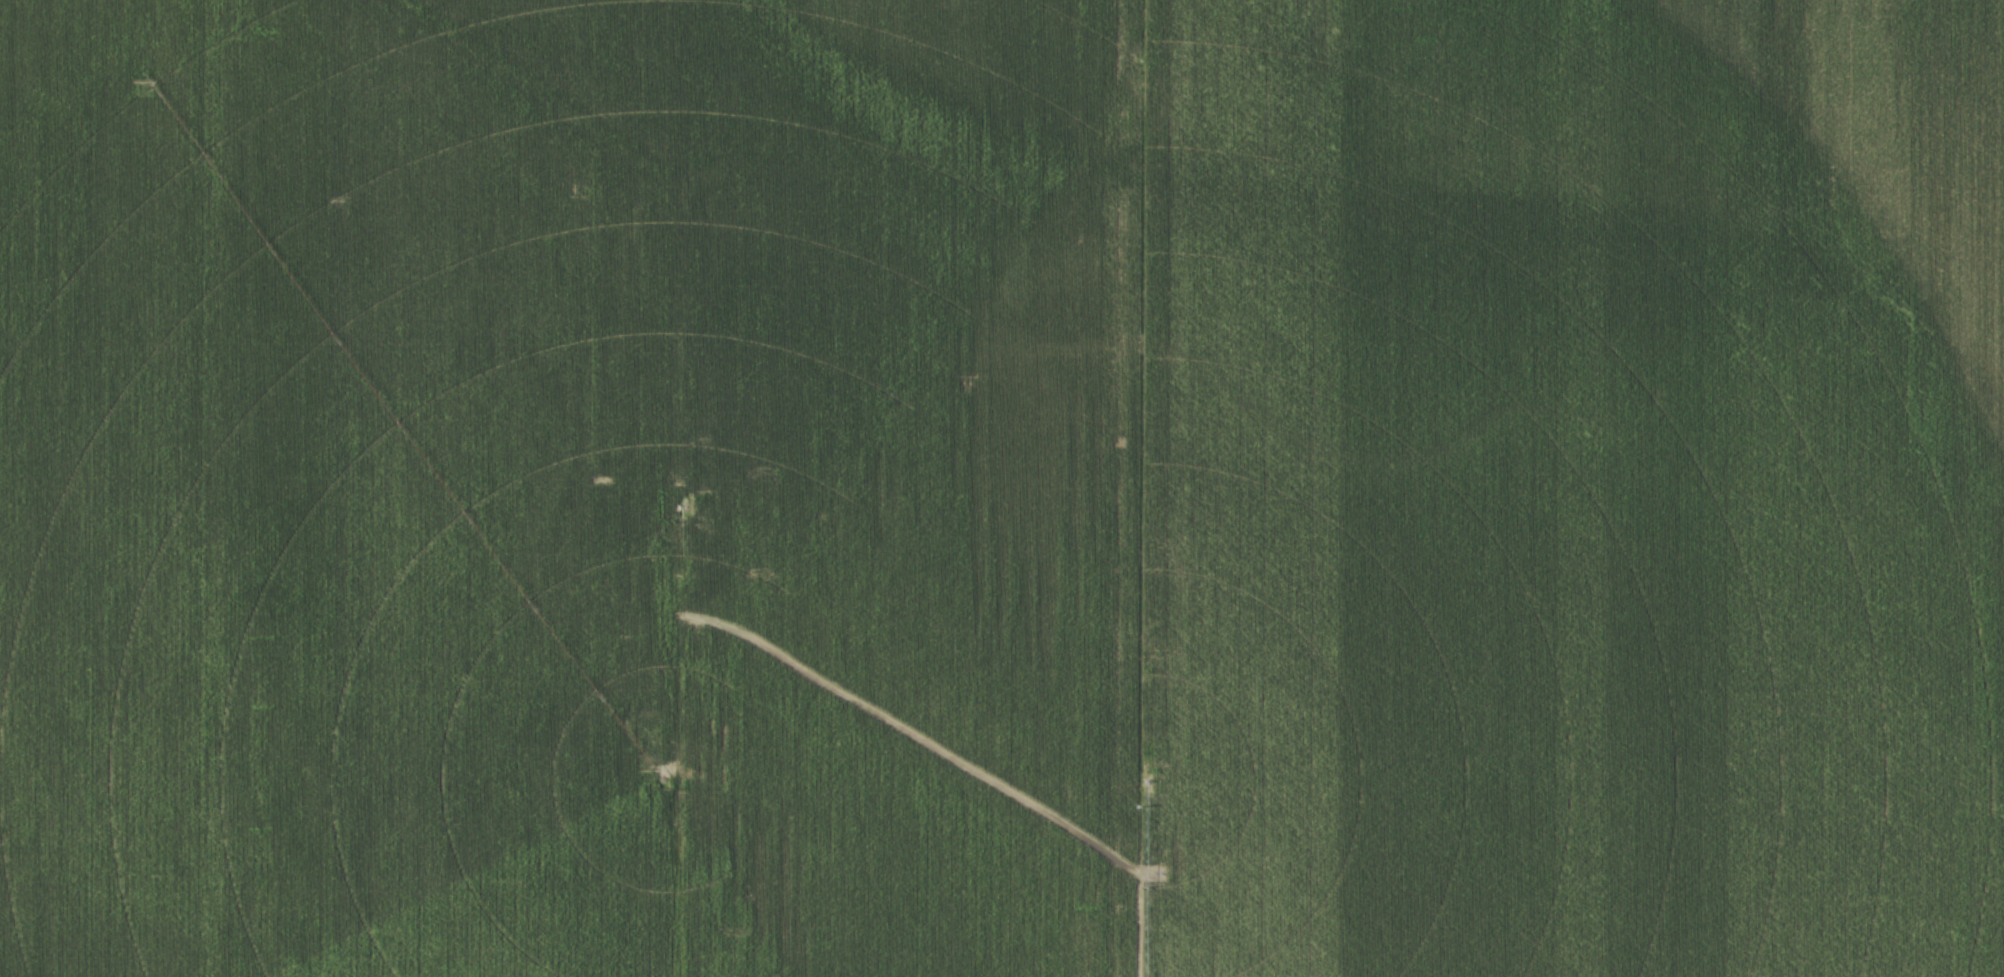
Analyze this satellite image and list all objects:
crop: (1002, 488)

